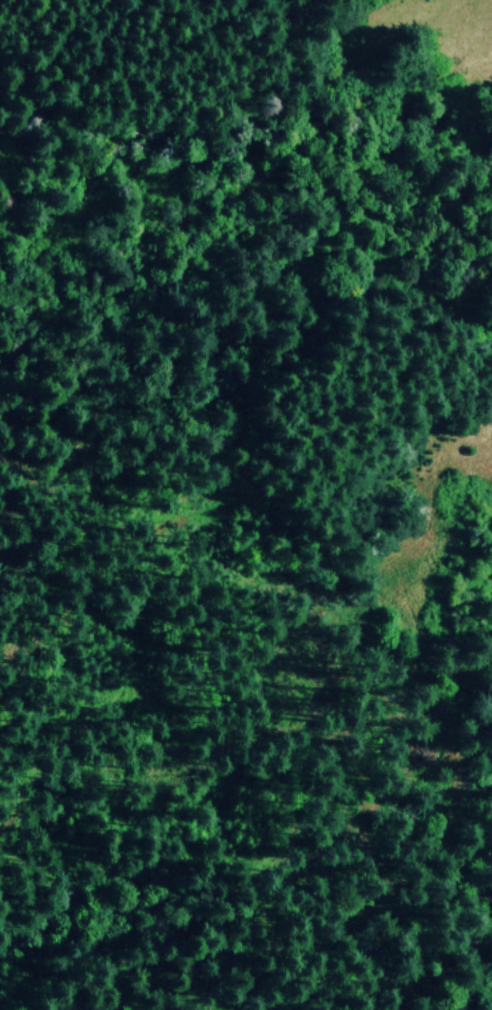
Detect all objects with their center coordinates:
crop: (244, 497)

